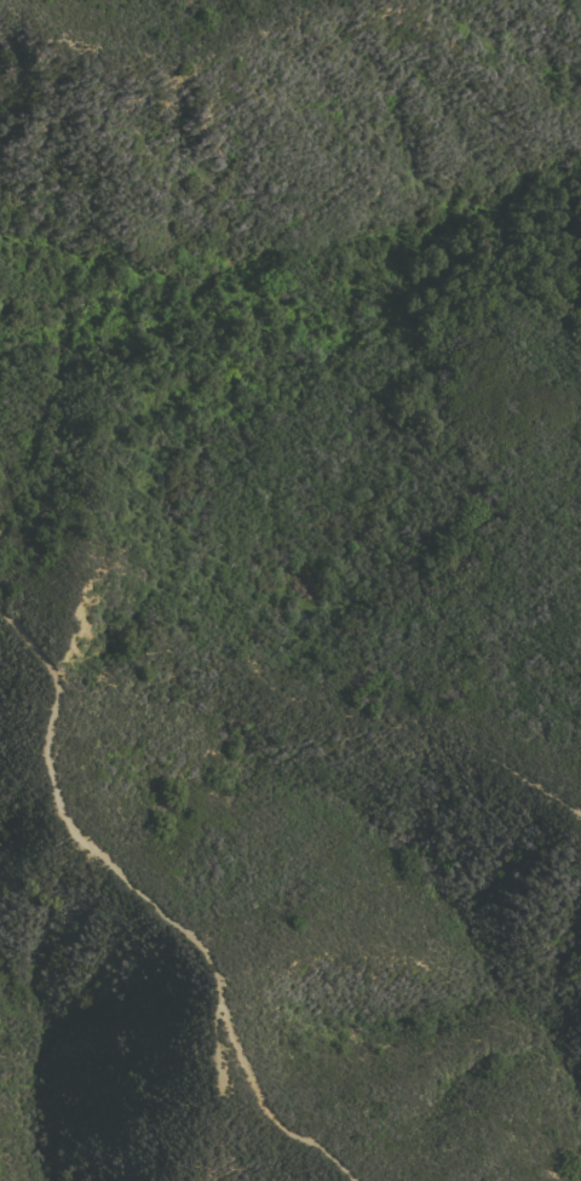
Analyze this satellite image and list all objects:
road: (290, 696)
road: (149, 907)

